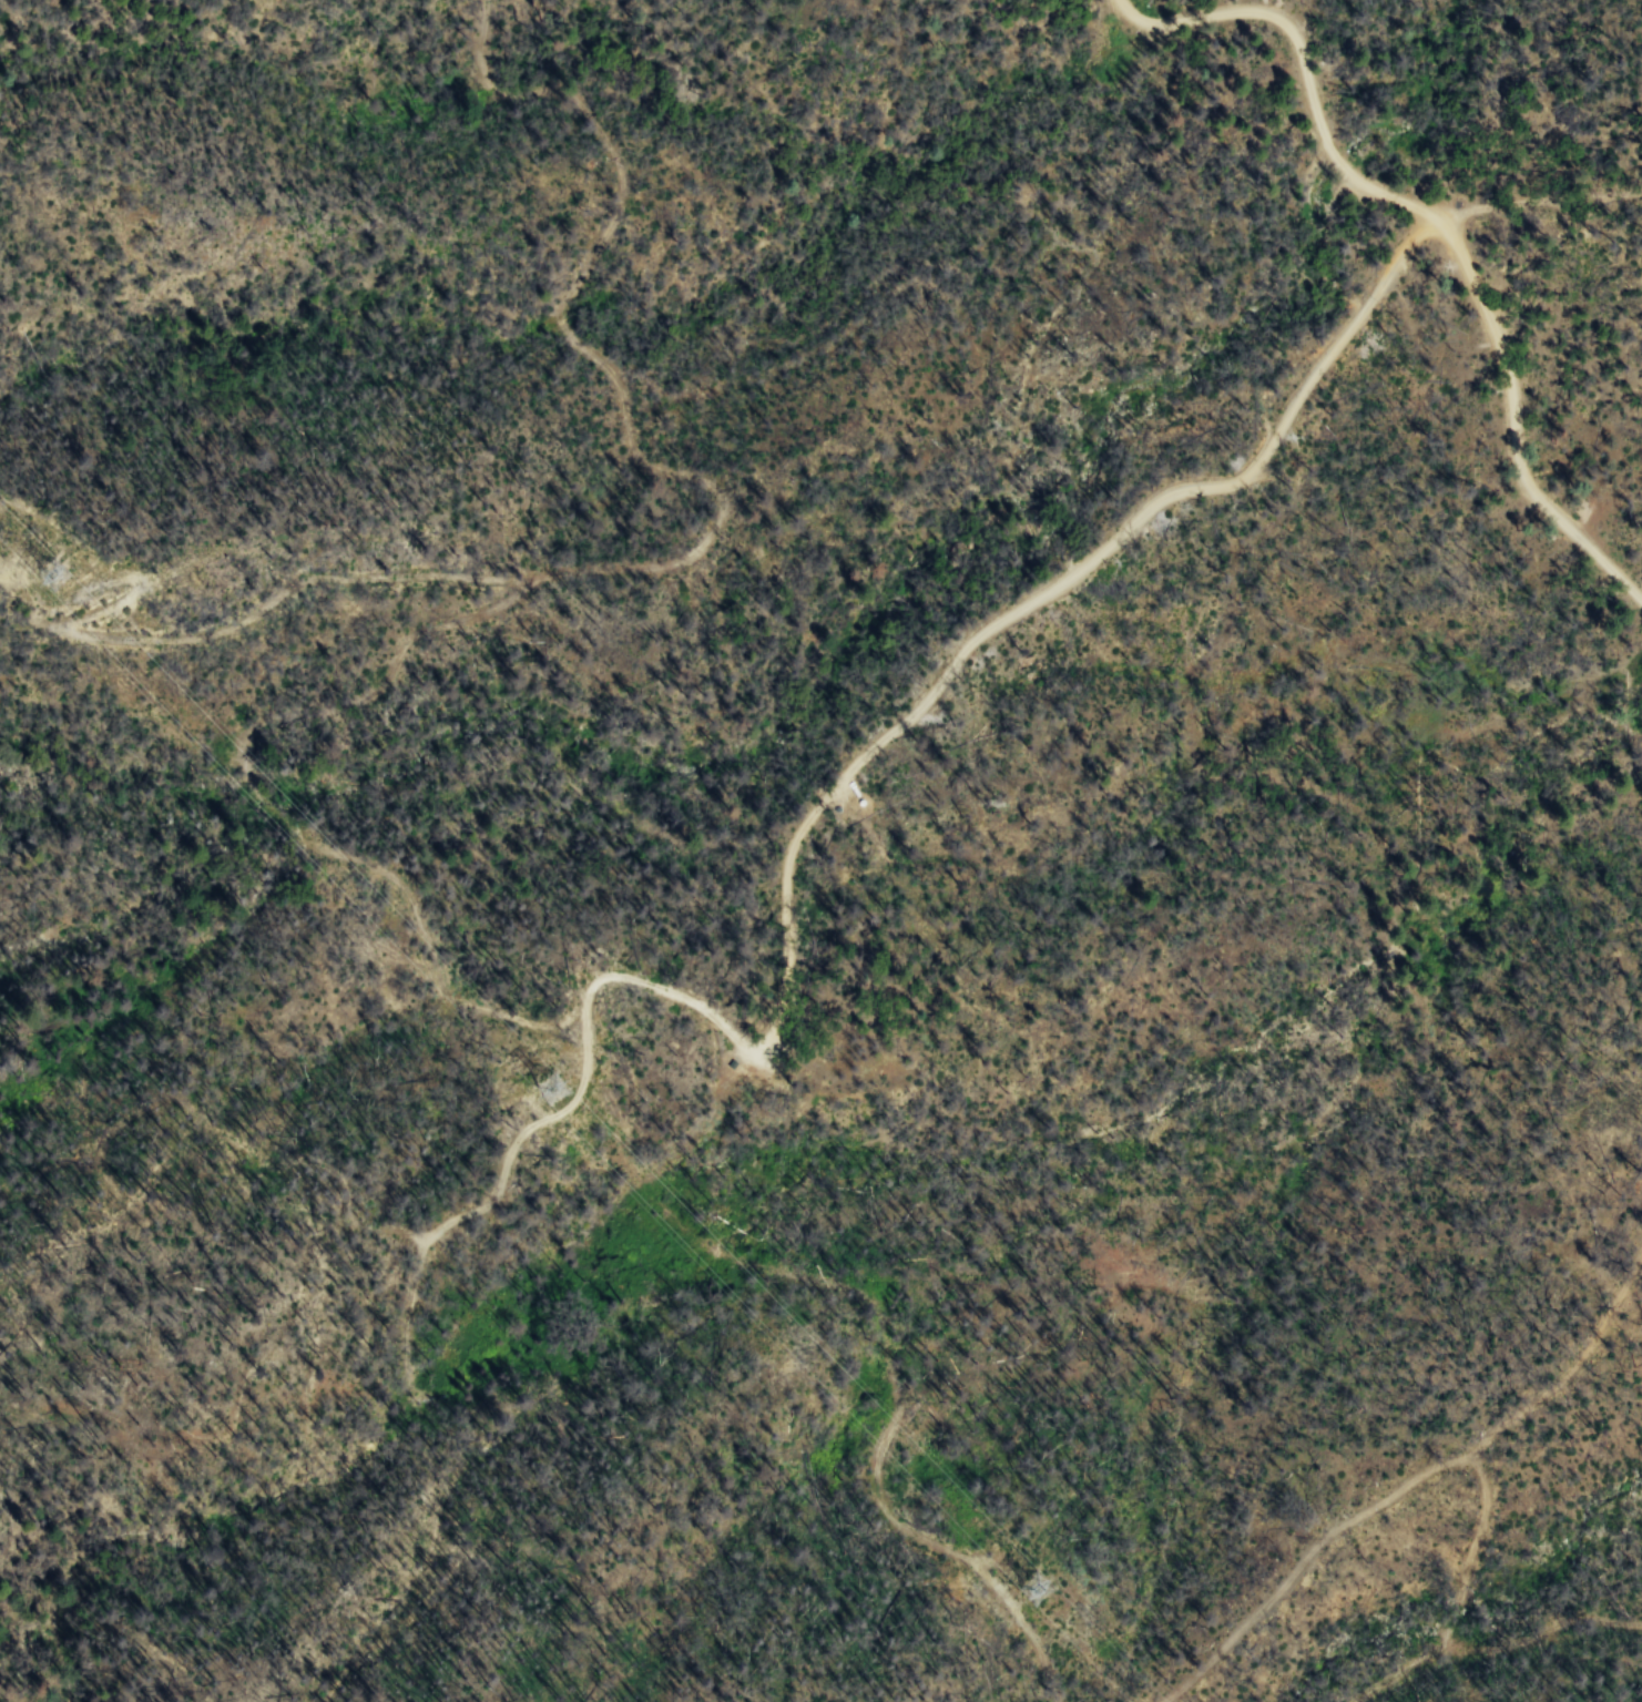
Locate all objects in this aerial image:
road: (1428, 220)
power tower: (71, 580)
road: (1036, 595)
power tower: (572, 1087)
power tower: (1050, 1591)

